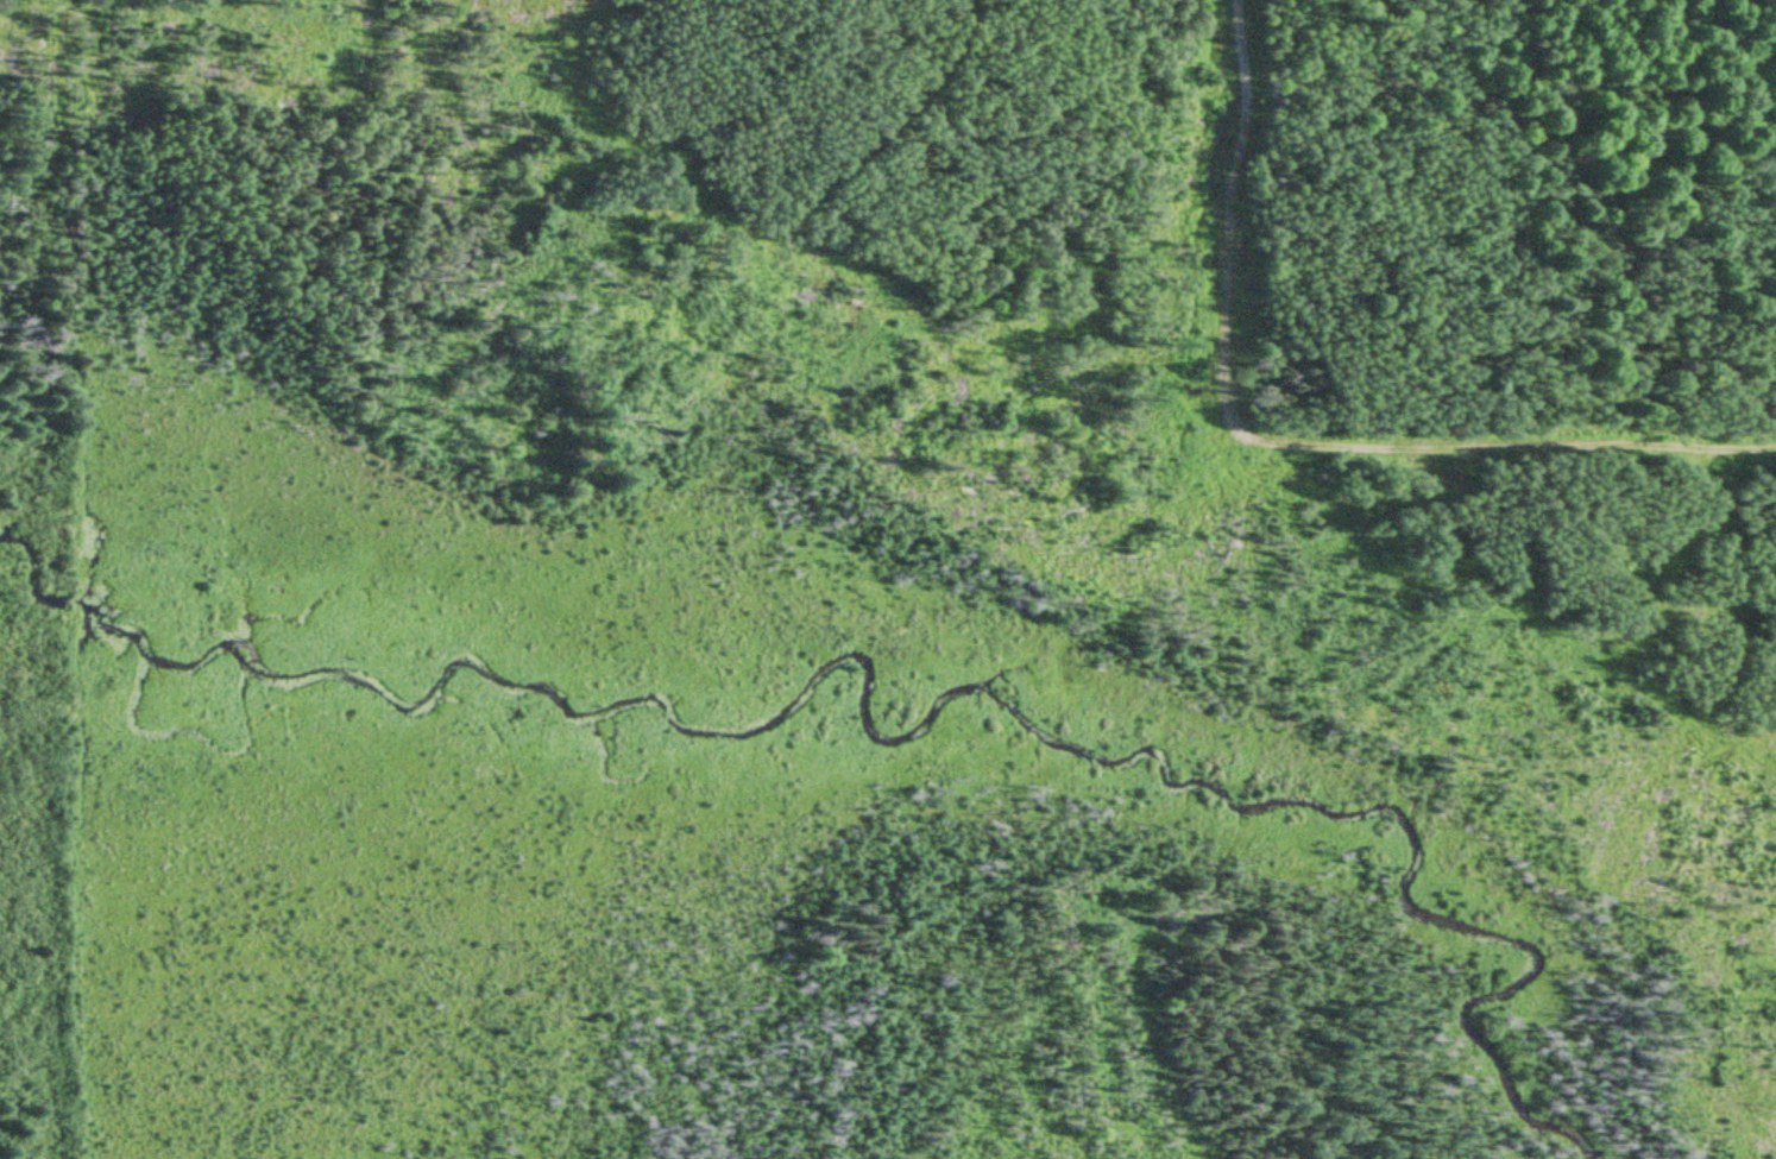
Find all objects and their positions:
road: (71, 579)

